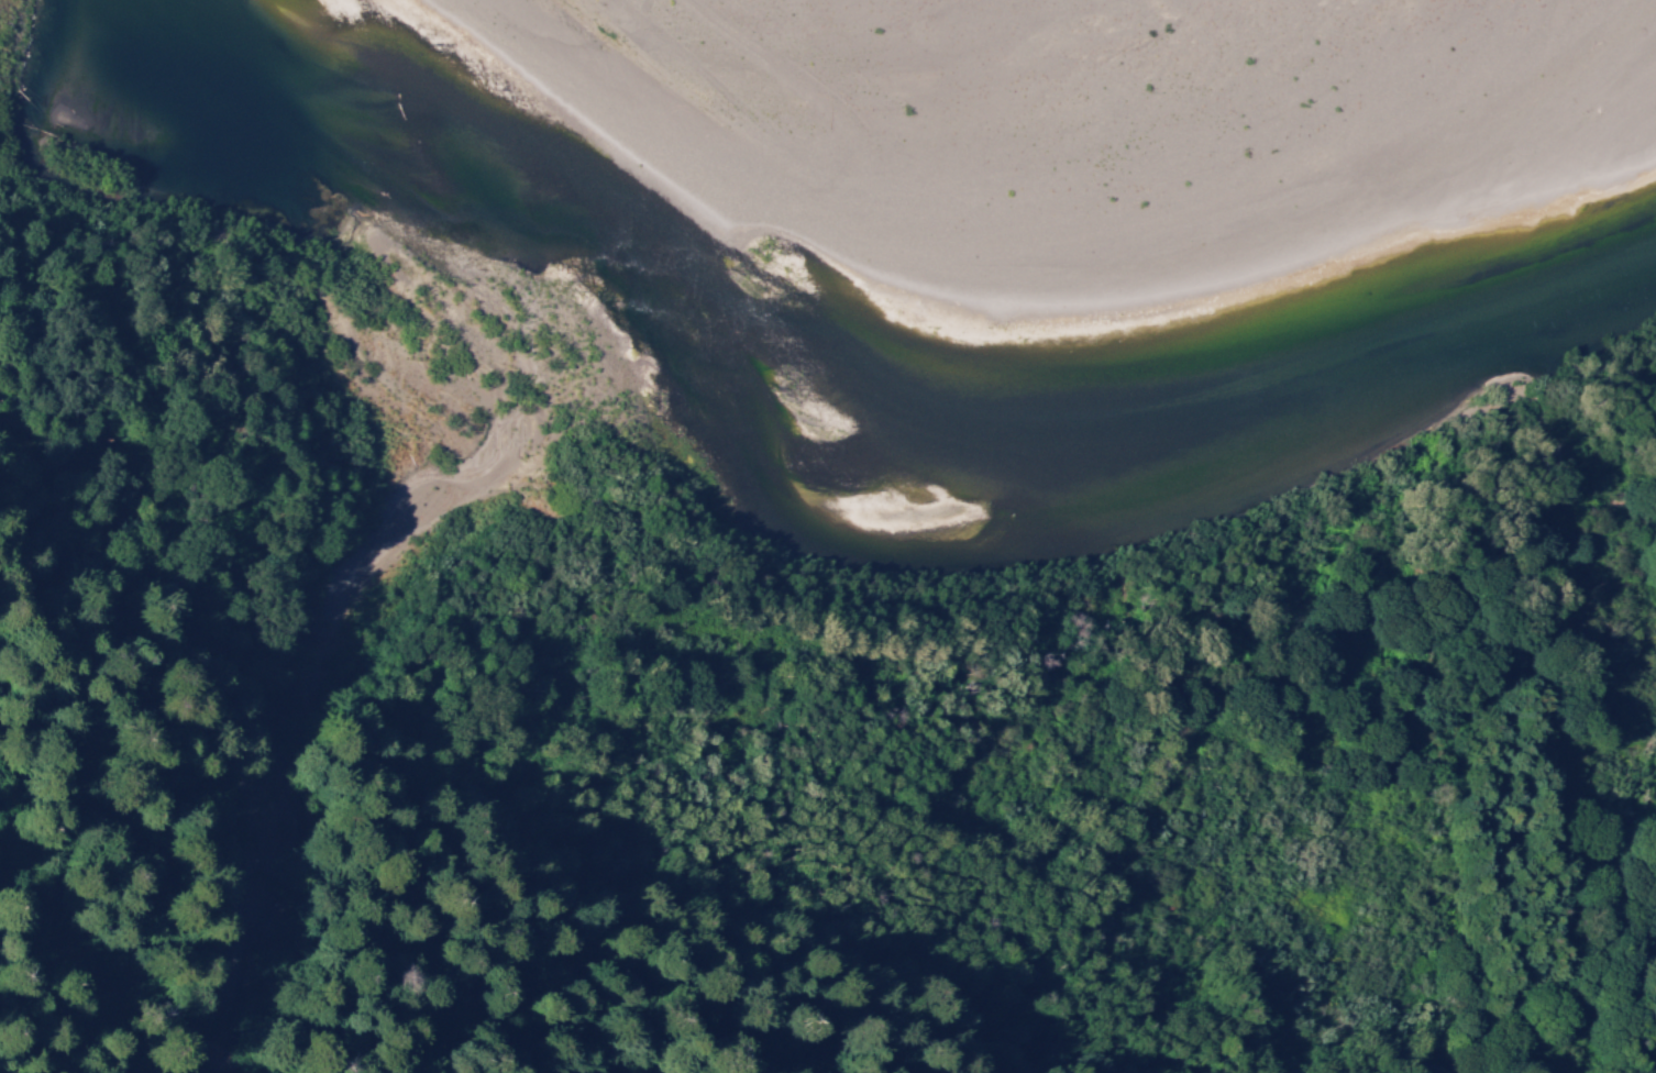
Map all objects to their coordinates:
river: (385, 228)
river: (1152, 597)
road: (1568, 964)
road: (219, 1030)

